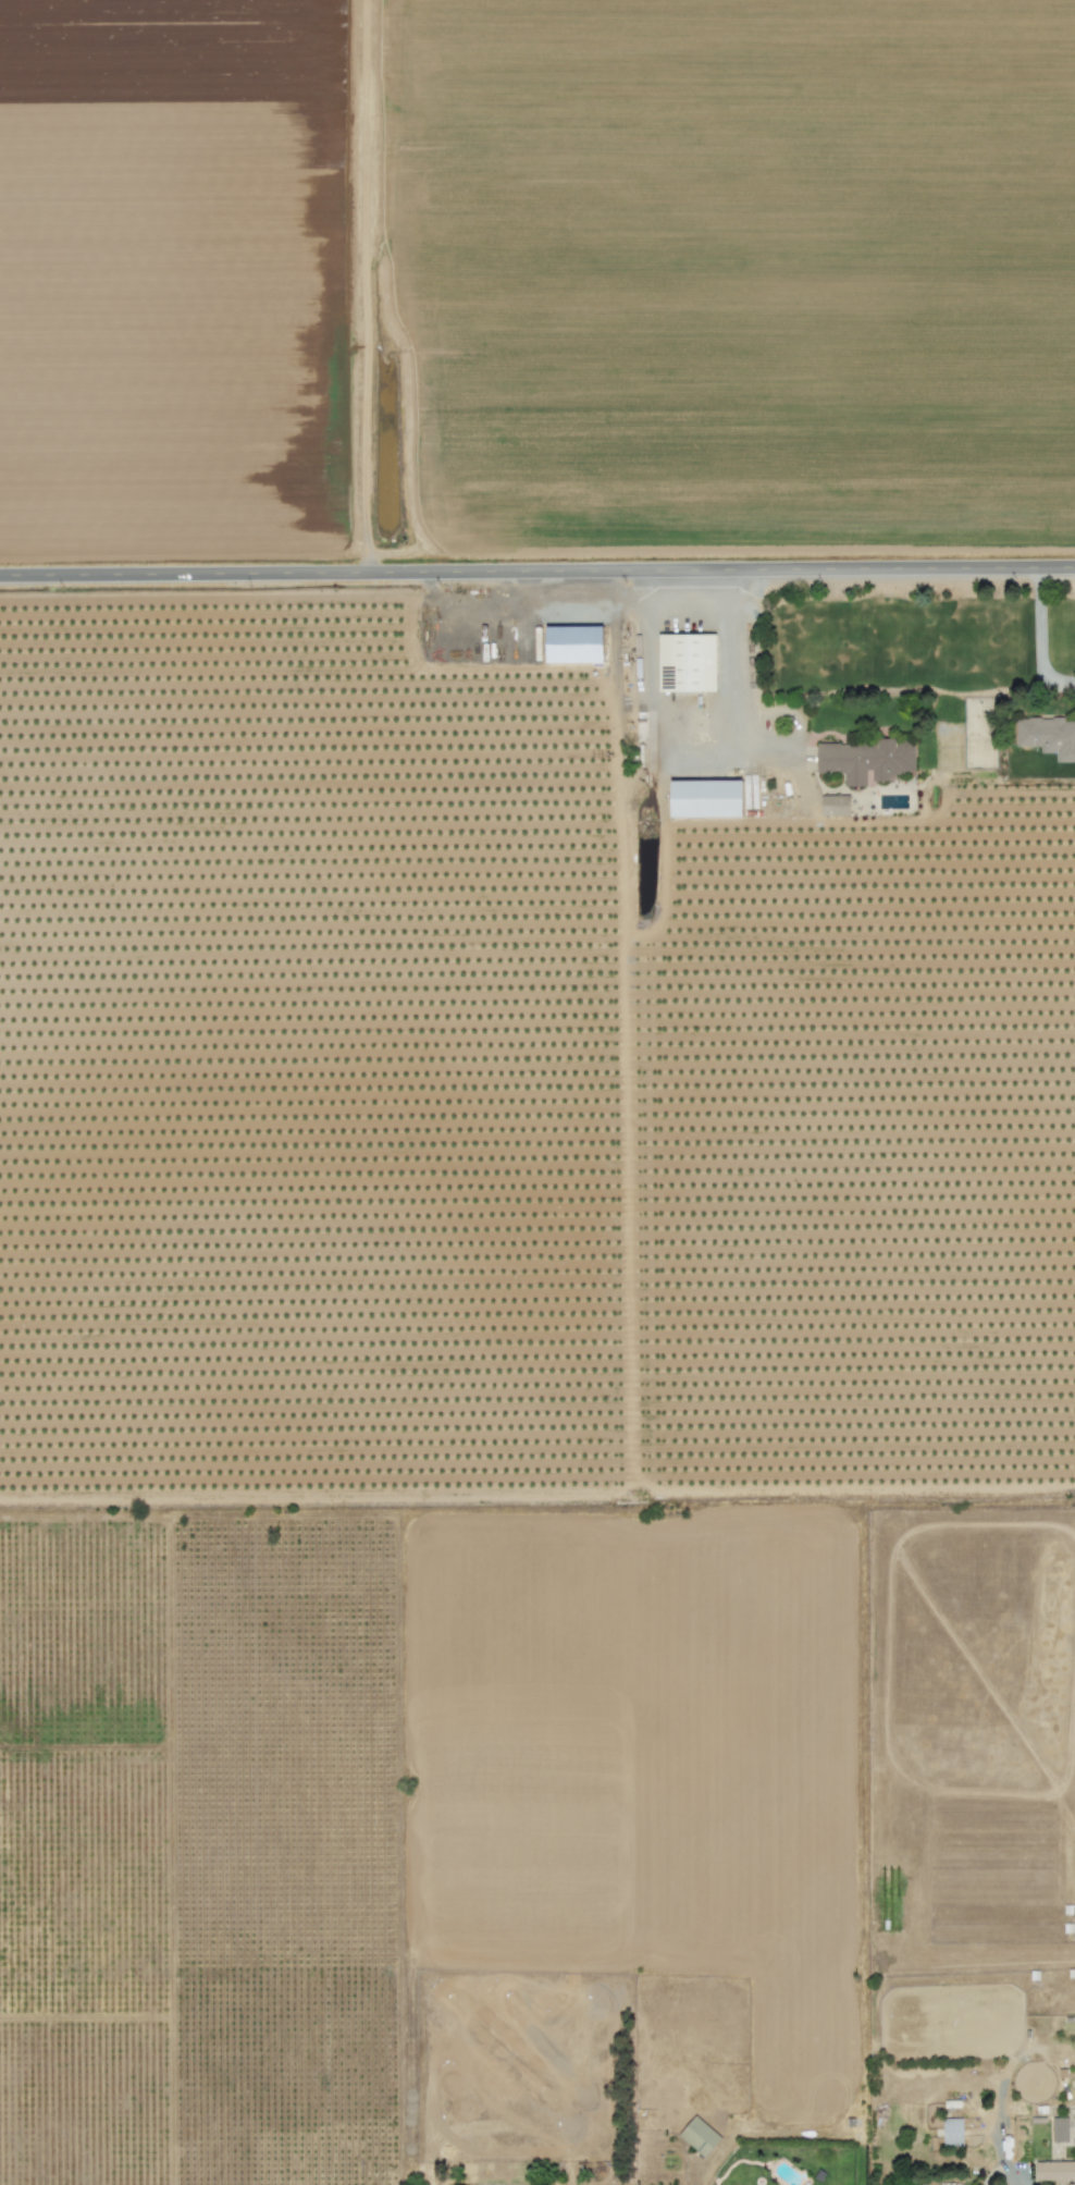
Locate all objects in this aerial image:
road: (537, 574)
road: (1037, 639)
building: (573, 645)
building: (687, 663)
road: (727, 685)
building: (1048, 737)
building: (865, 761)
building: (705, 799)
building: (835, 806)
building: (1060, 2129)
building: (952, 2133)
building: (699, 2136)
building: (1055, 2172)

